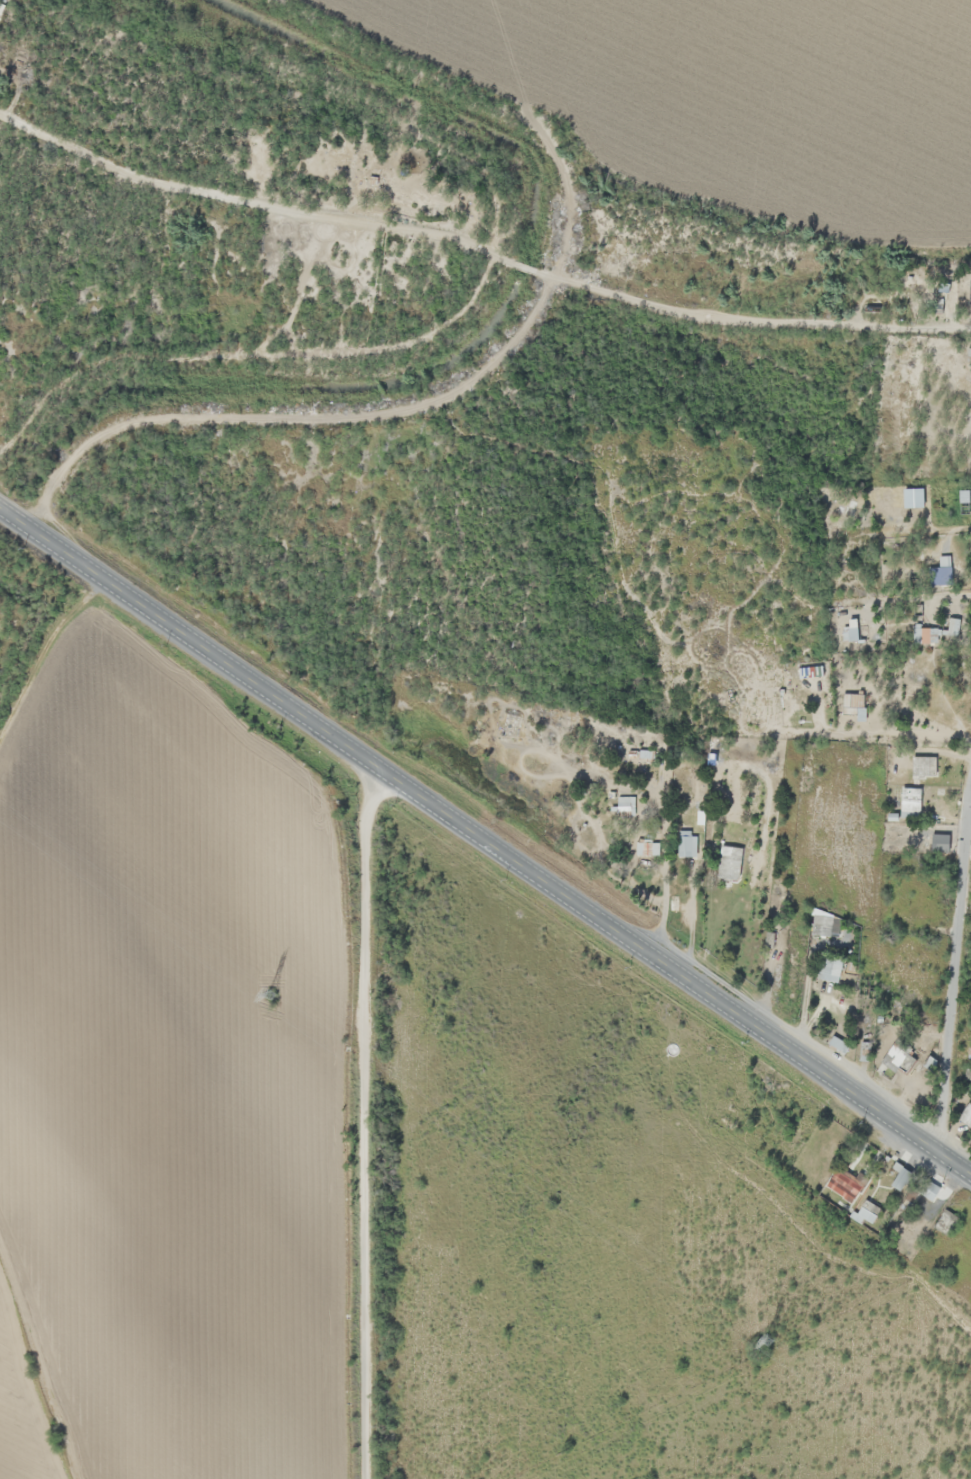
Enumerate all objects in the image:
road: (480, 247)
road: (485, 838)
road: (952, 964)
power tower: (273, 996)
power tower: (773, 1343)

